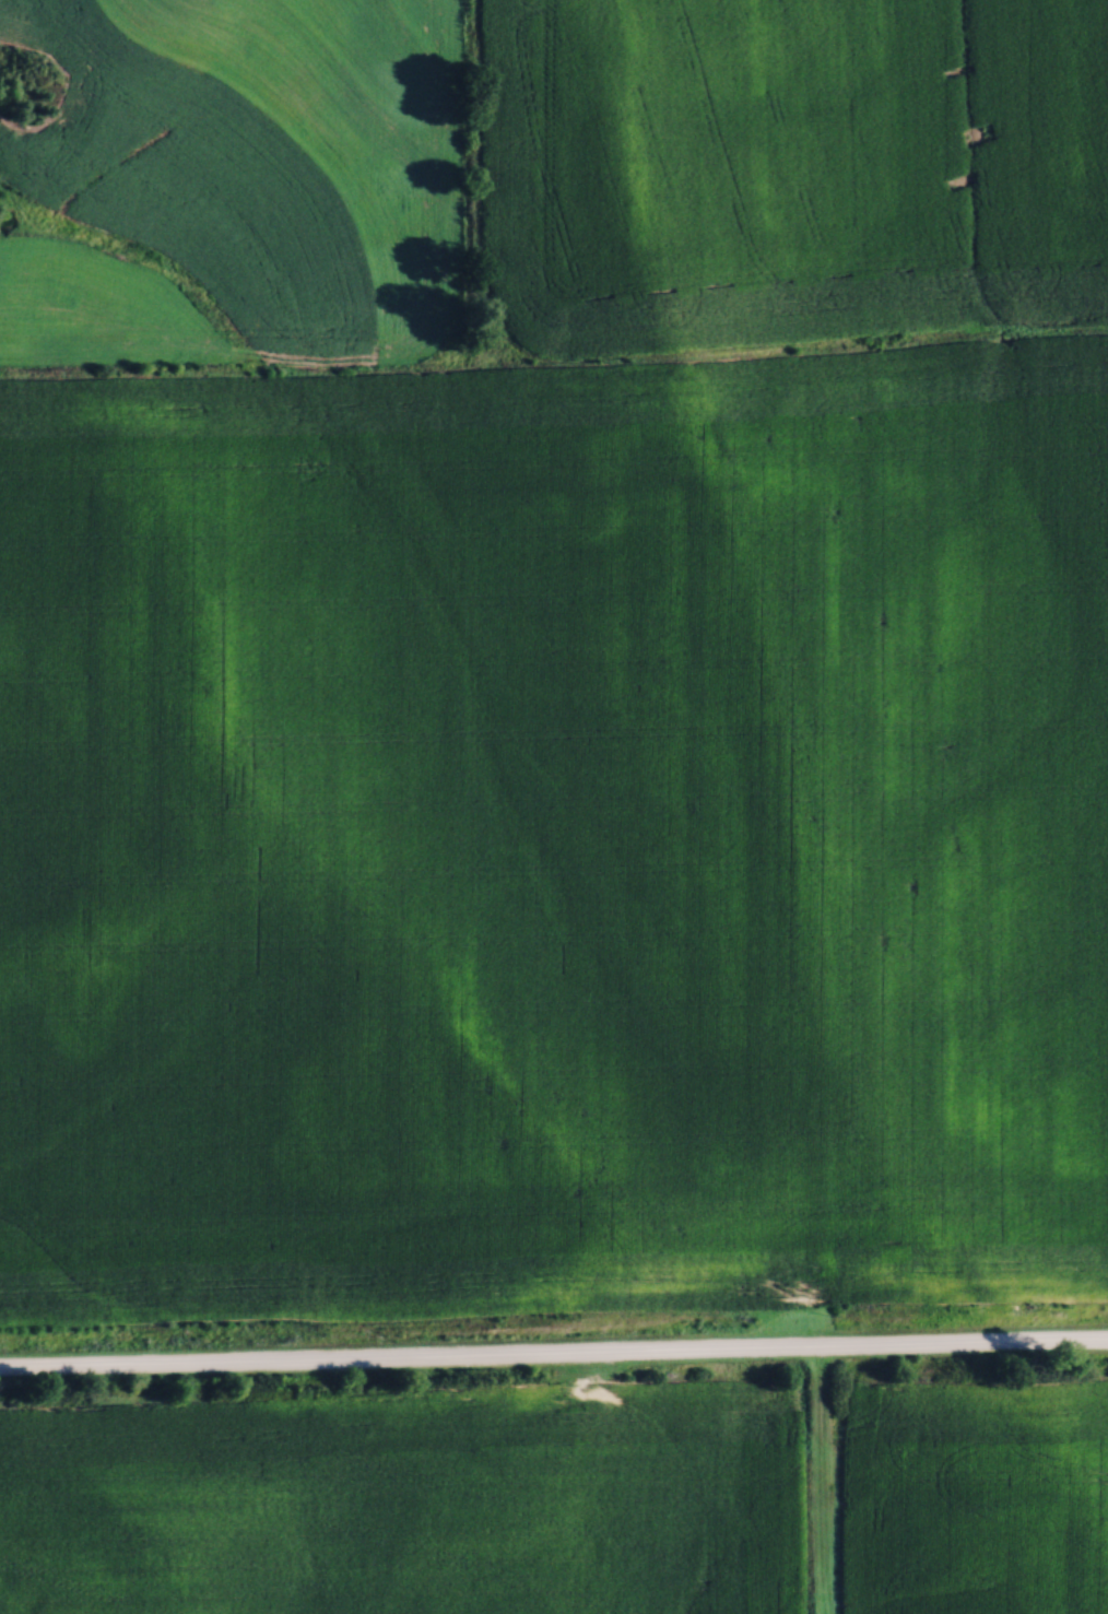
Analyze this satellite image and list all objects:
road: (554, 1354)

